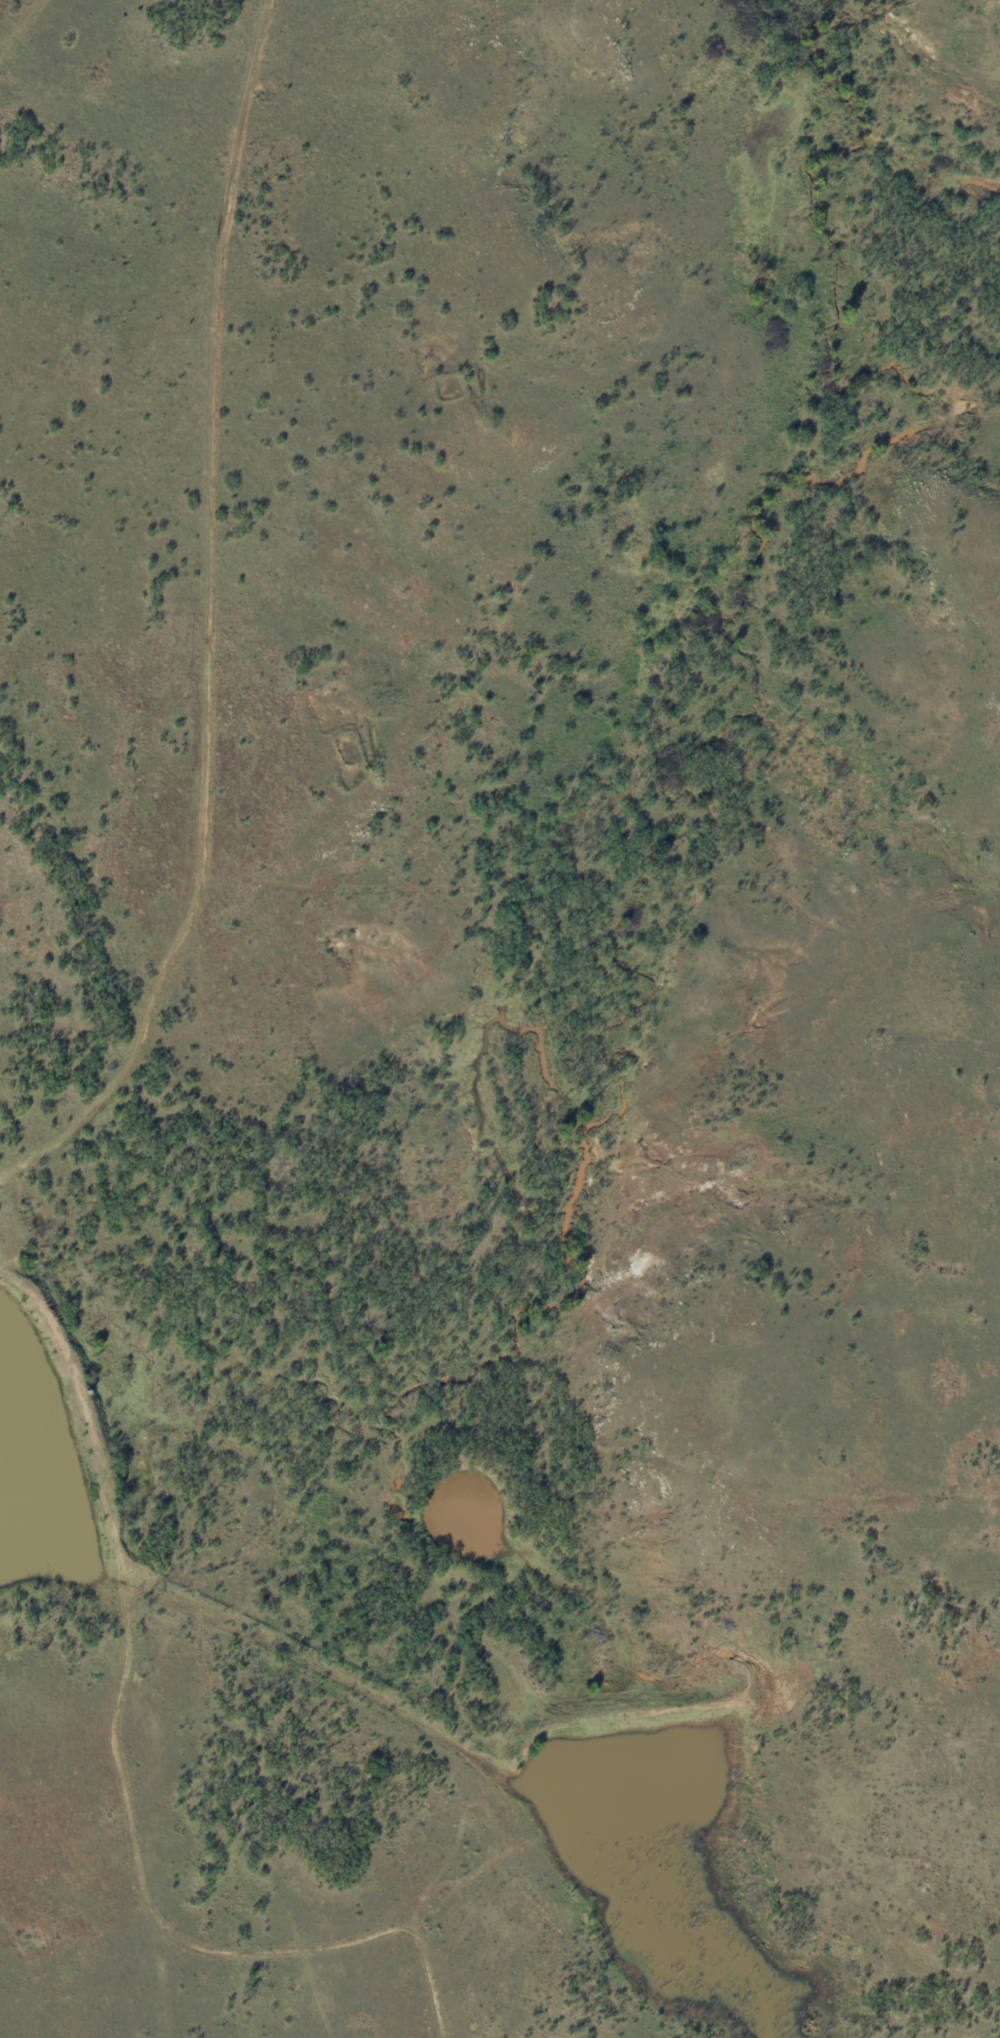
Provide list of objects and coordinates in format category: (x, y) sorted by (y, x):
road: (92, 537)
road: (105, 1189)
road: (297, 1856)

